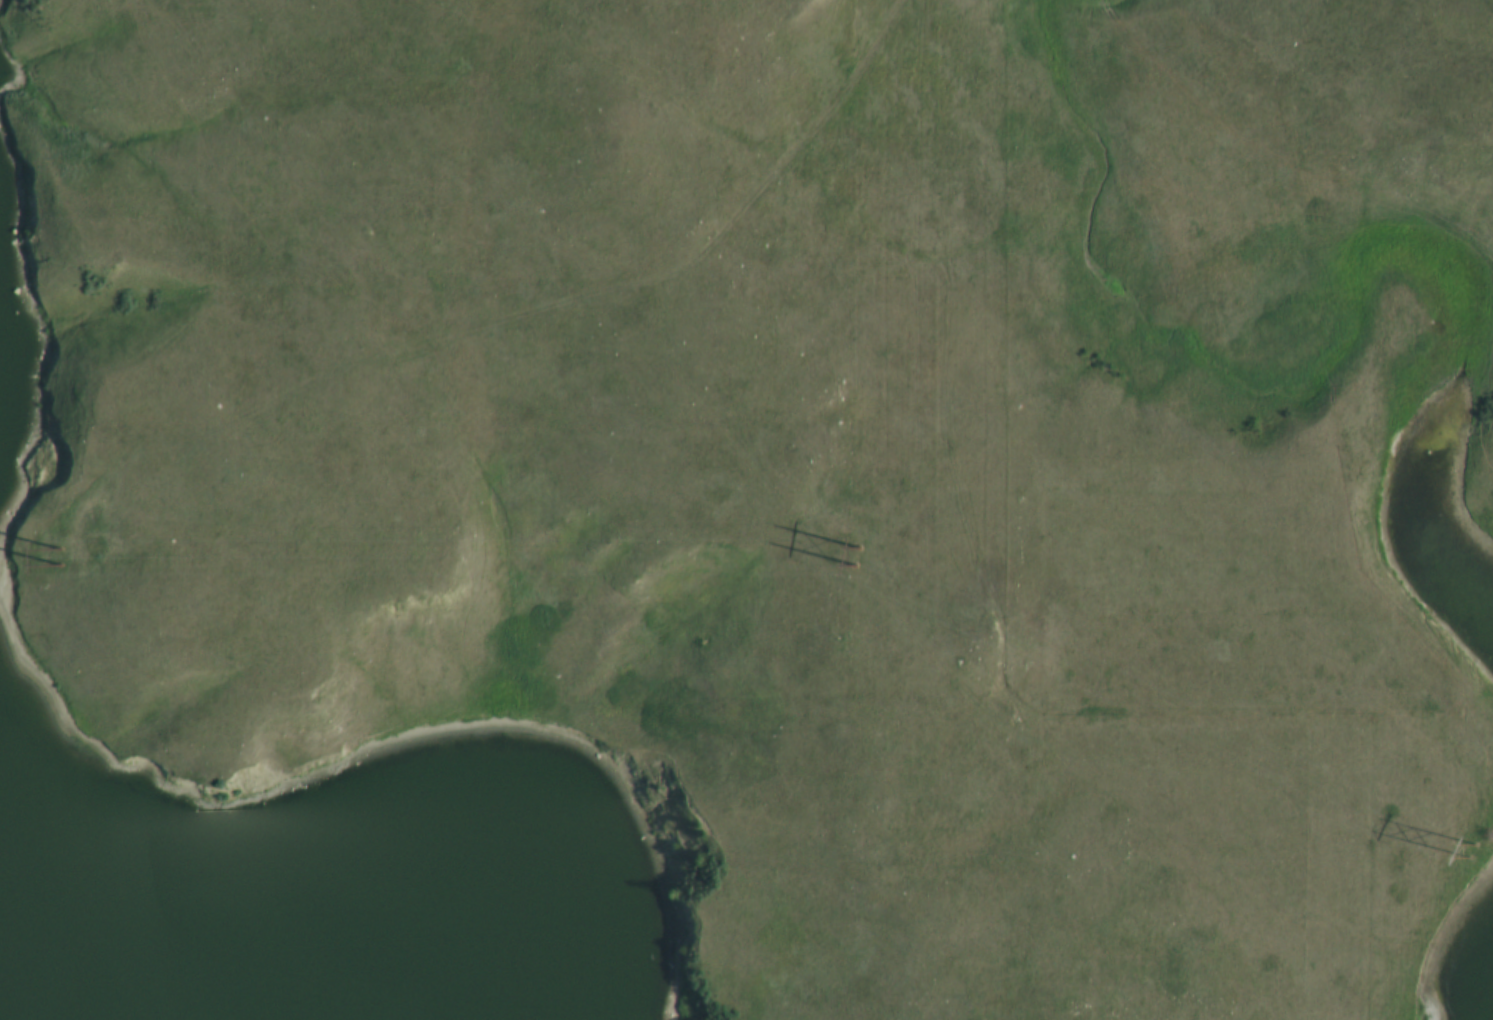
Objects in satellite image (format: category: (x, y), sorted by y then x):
power tower: (51, 556)
power tower: (860, 558)
power tower: (1470, 853)

